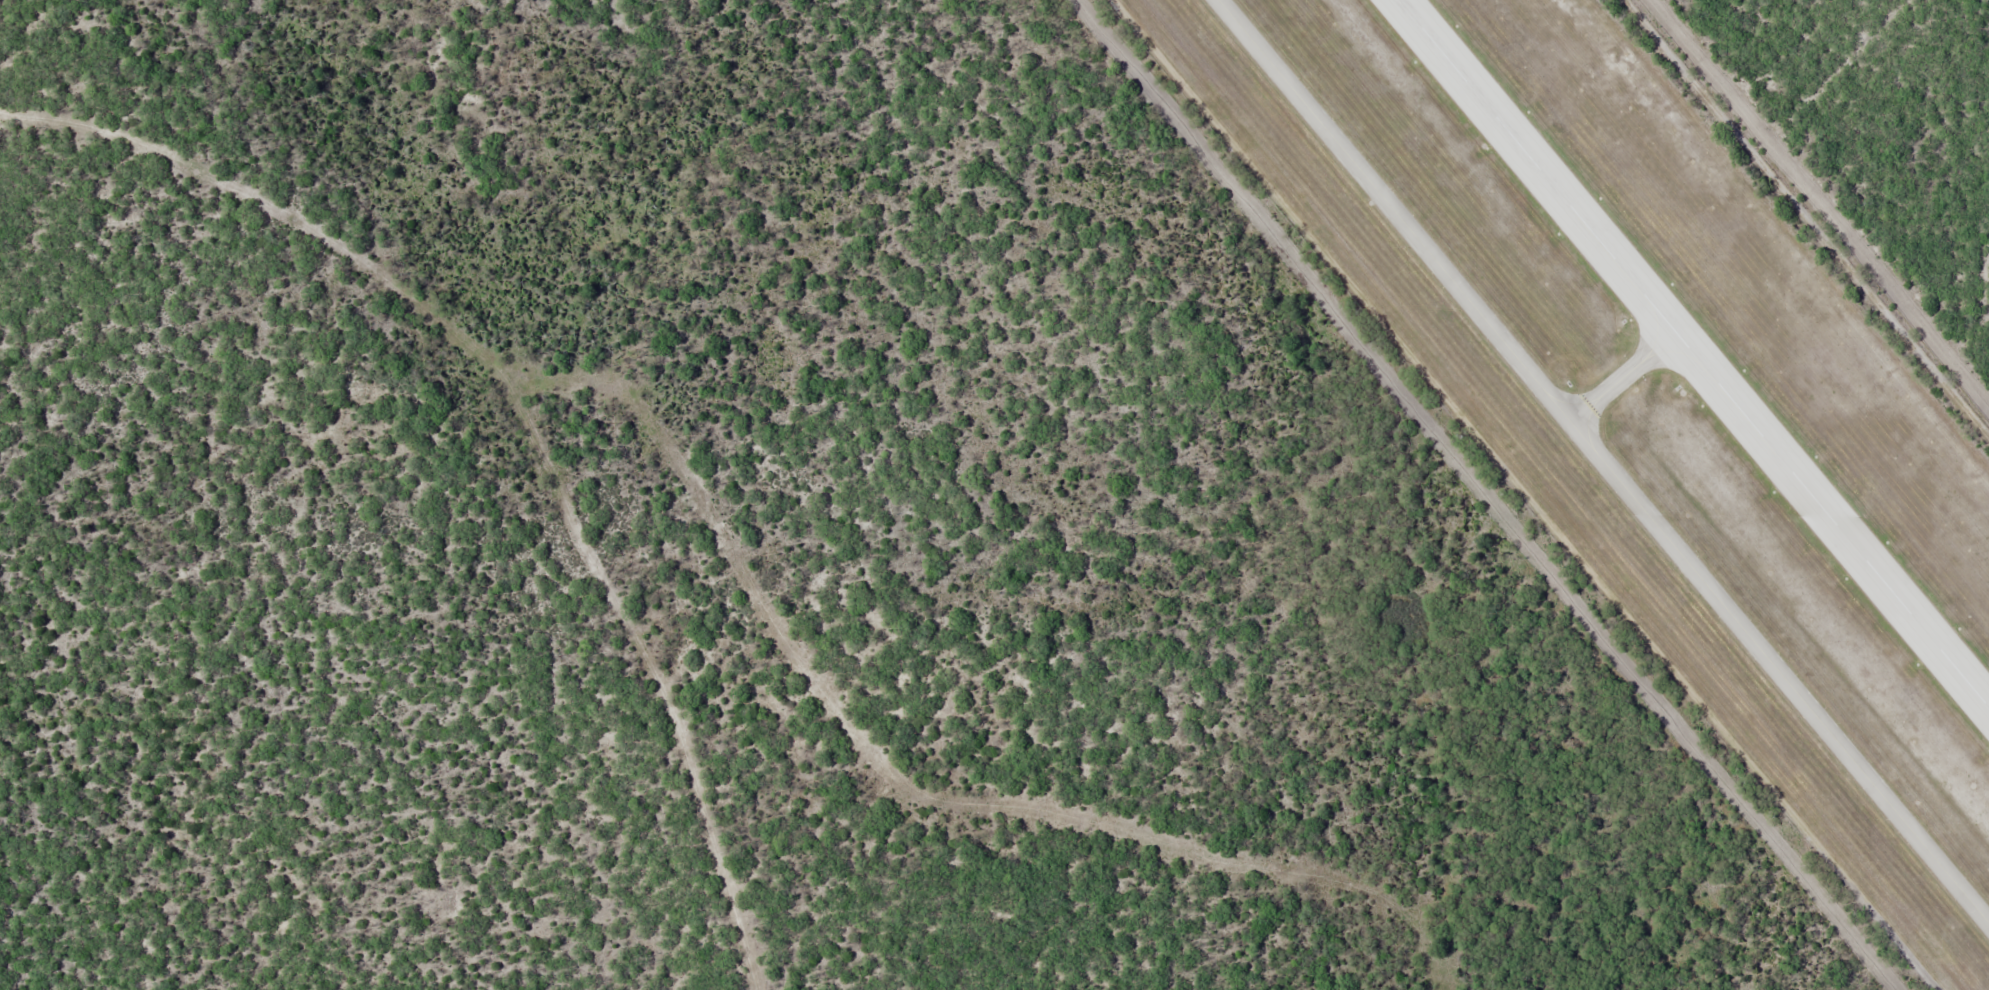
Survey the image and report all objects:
airport runway: (1695, 350)
airport runway: (1697, 351)
airport taxiway: (1627, 377)
airport taxiway: (1604, 457)

